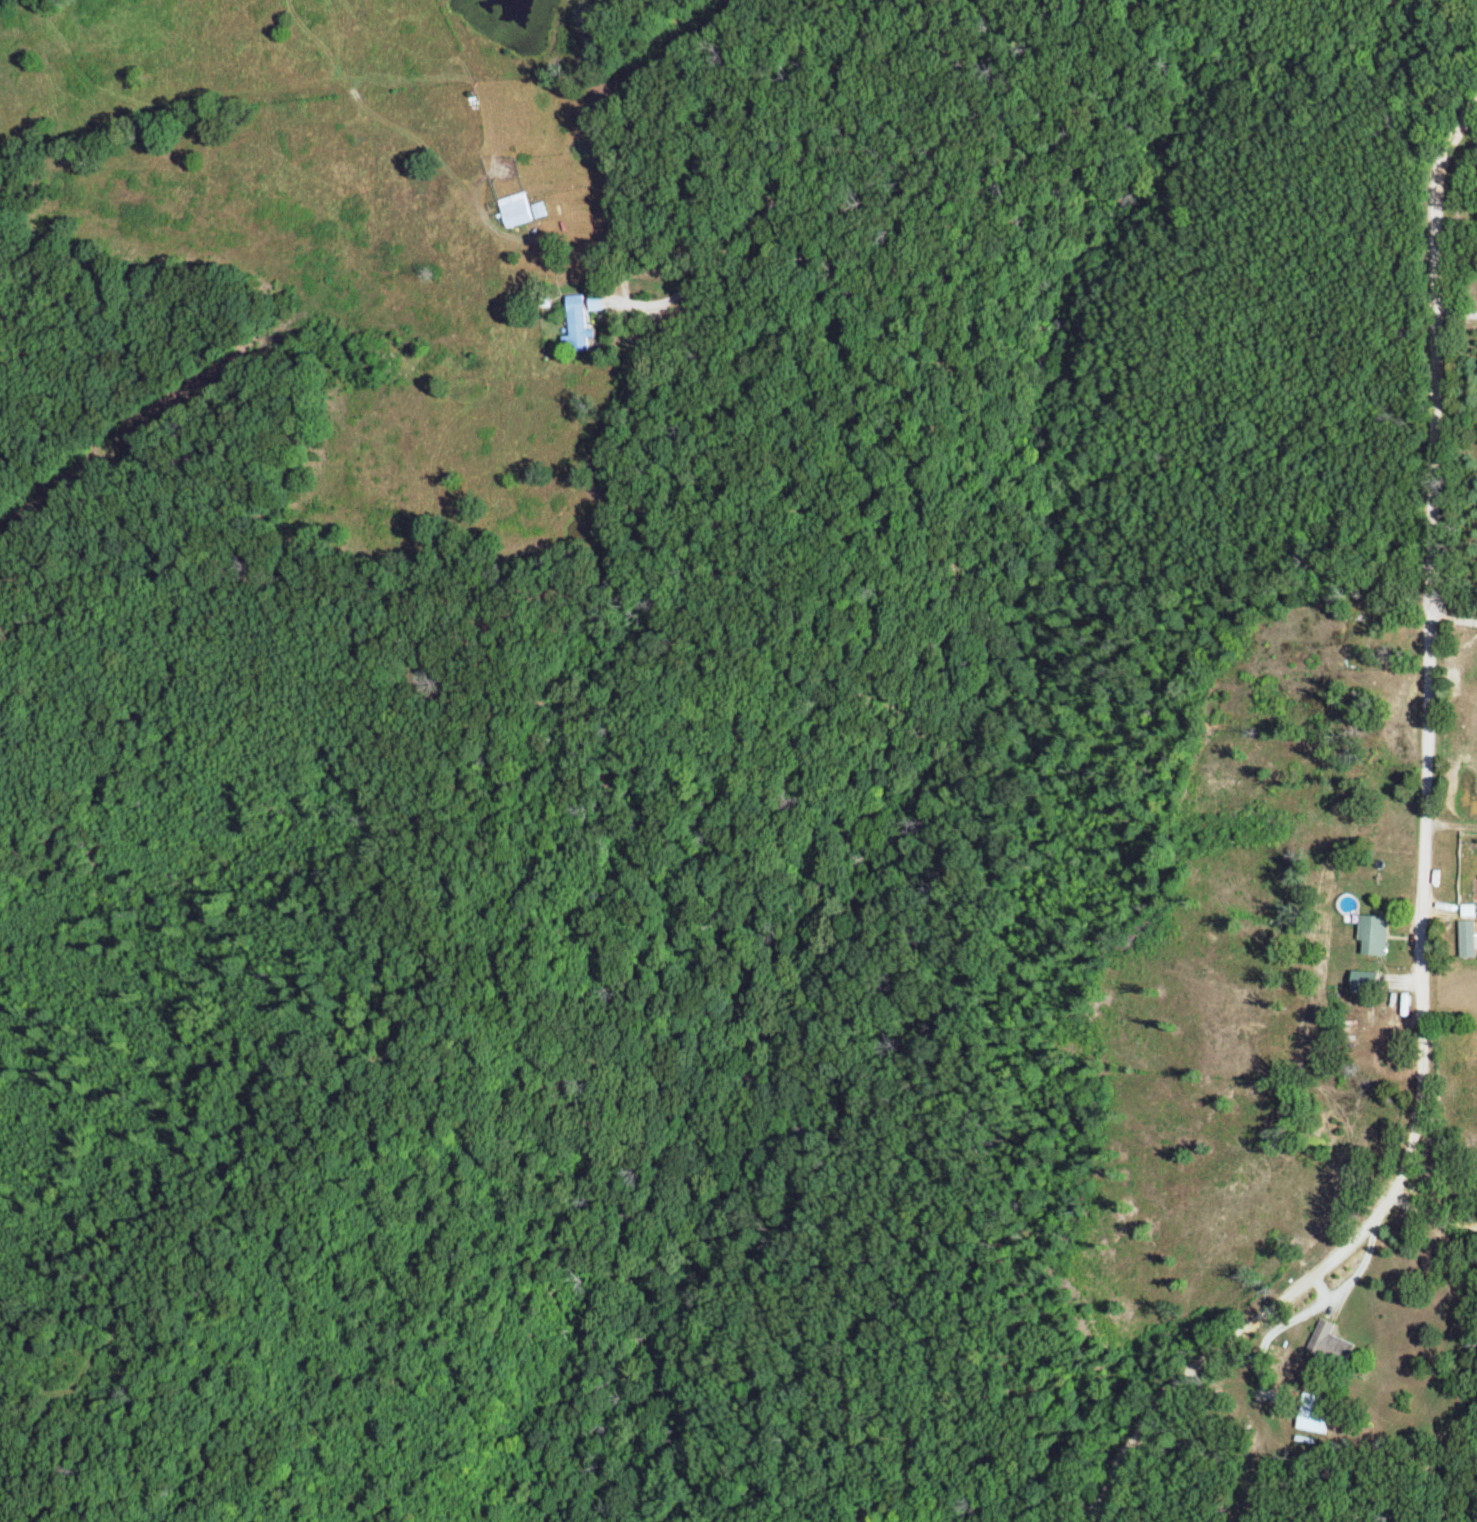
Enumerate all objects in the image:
road: (772, 196)
building: (599, 300)
building: (581, 322)
road: (1444, 323)
road: (1389, 812)
building: (1376, 933)
building: (1470, 936)
building: (1367, 980)
road: (1421, 1244)
building: (1314, 1414)

